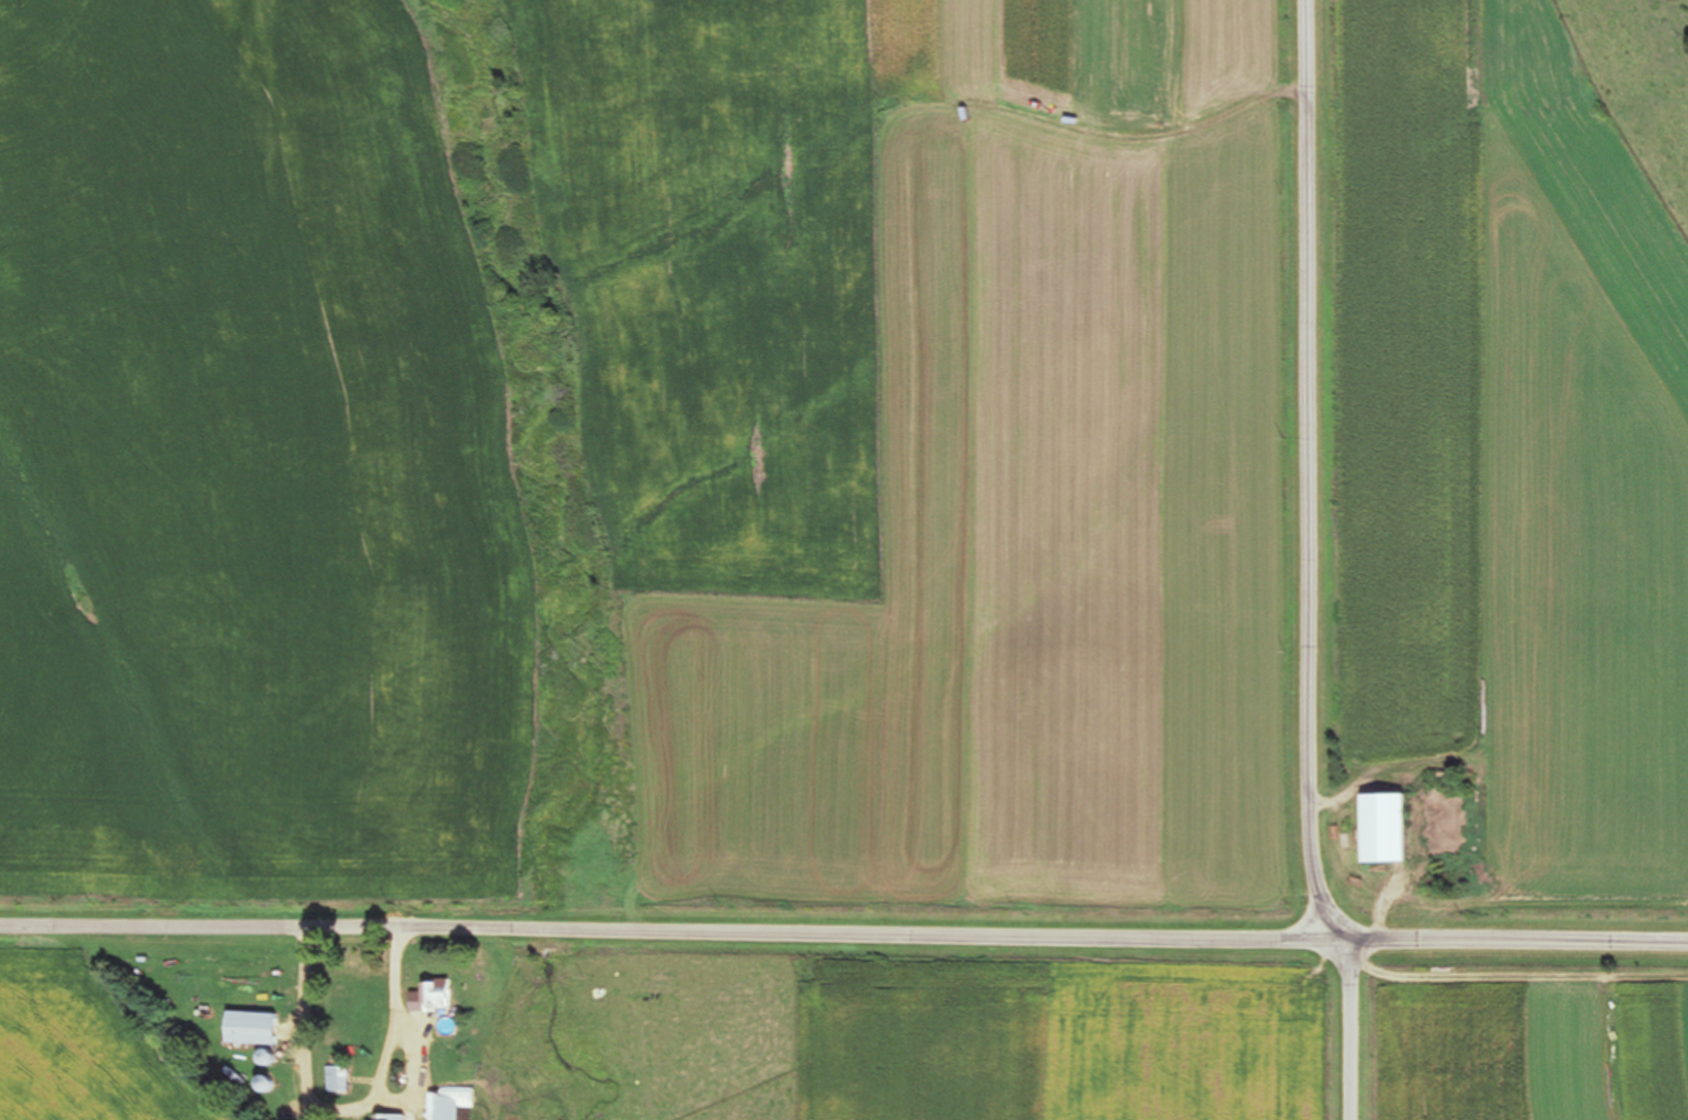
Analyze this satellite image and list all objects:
road: (1315, 559)
building: (1393, 828)
road: (1502, 905)
road: (658, 908)
building: (673, 974)
building: (437, 996)
road: (311, 1016)
building: (257, 1028)
building: (338, 1079)
building: (453, 1104)
building: (391, 1117)

